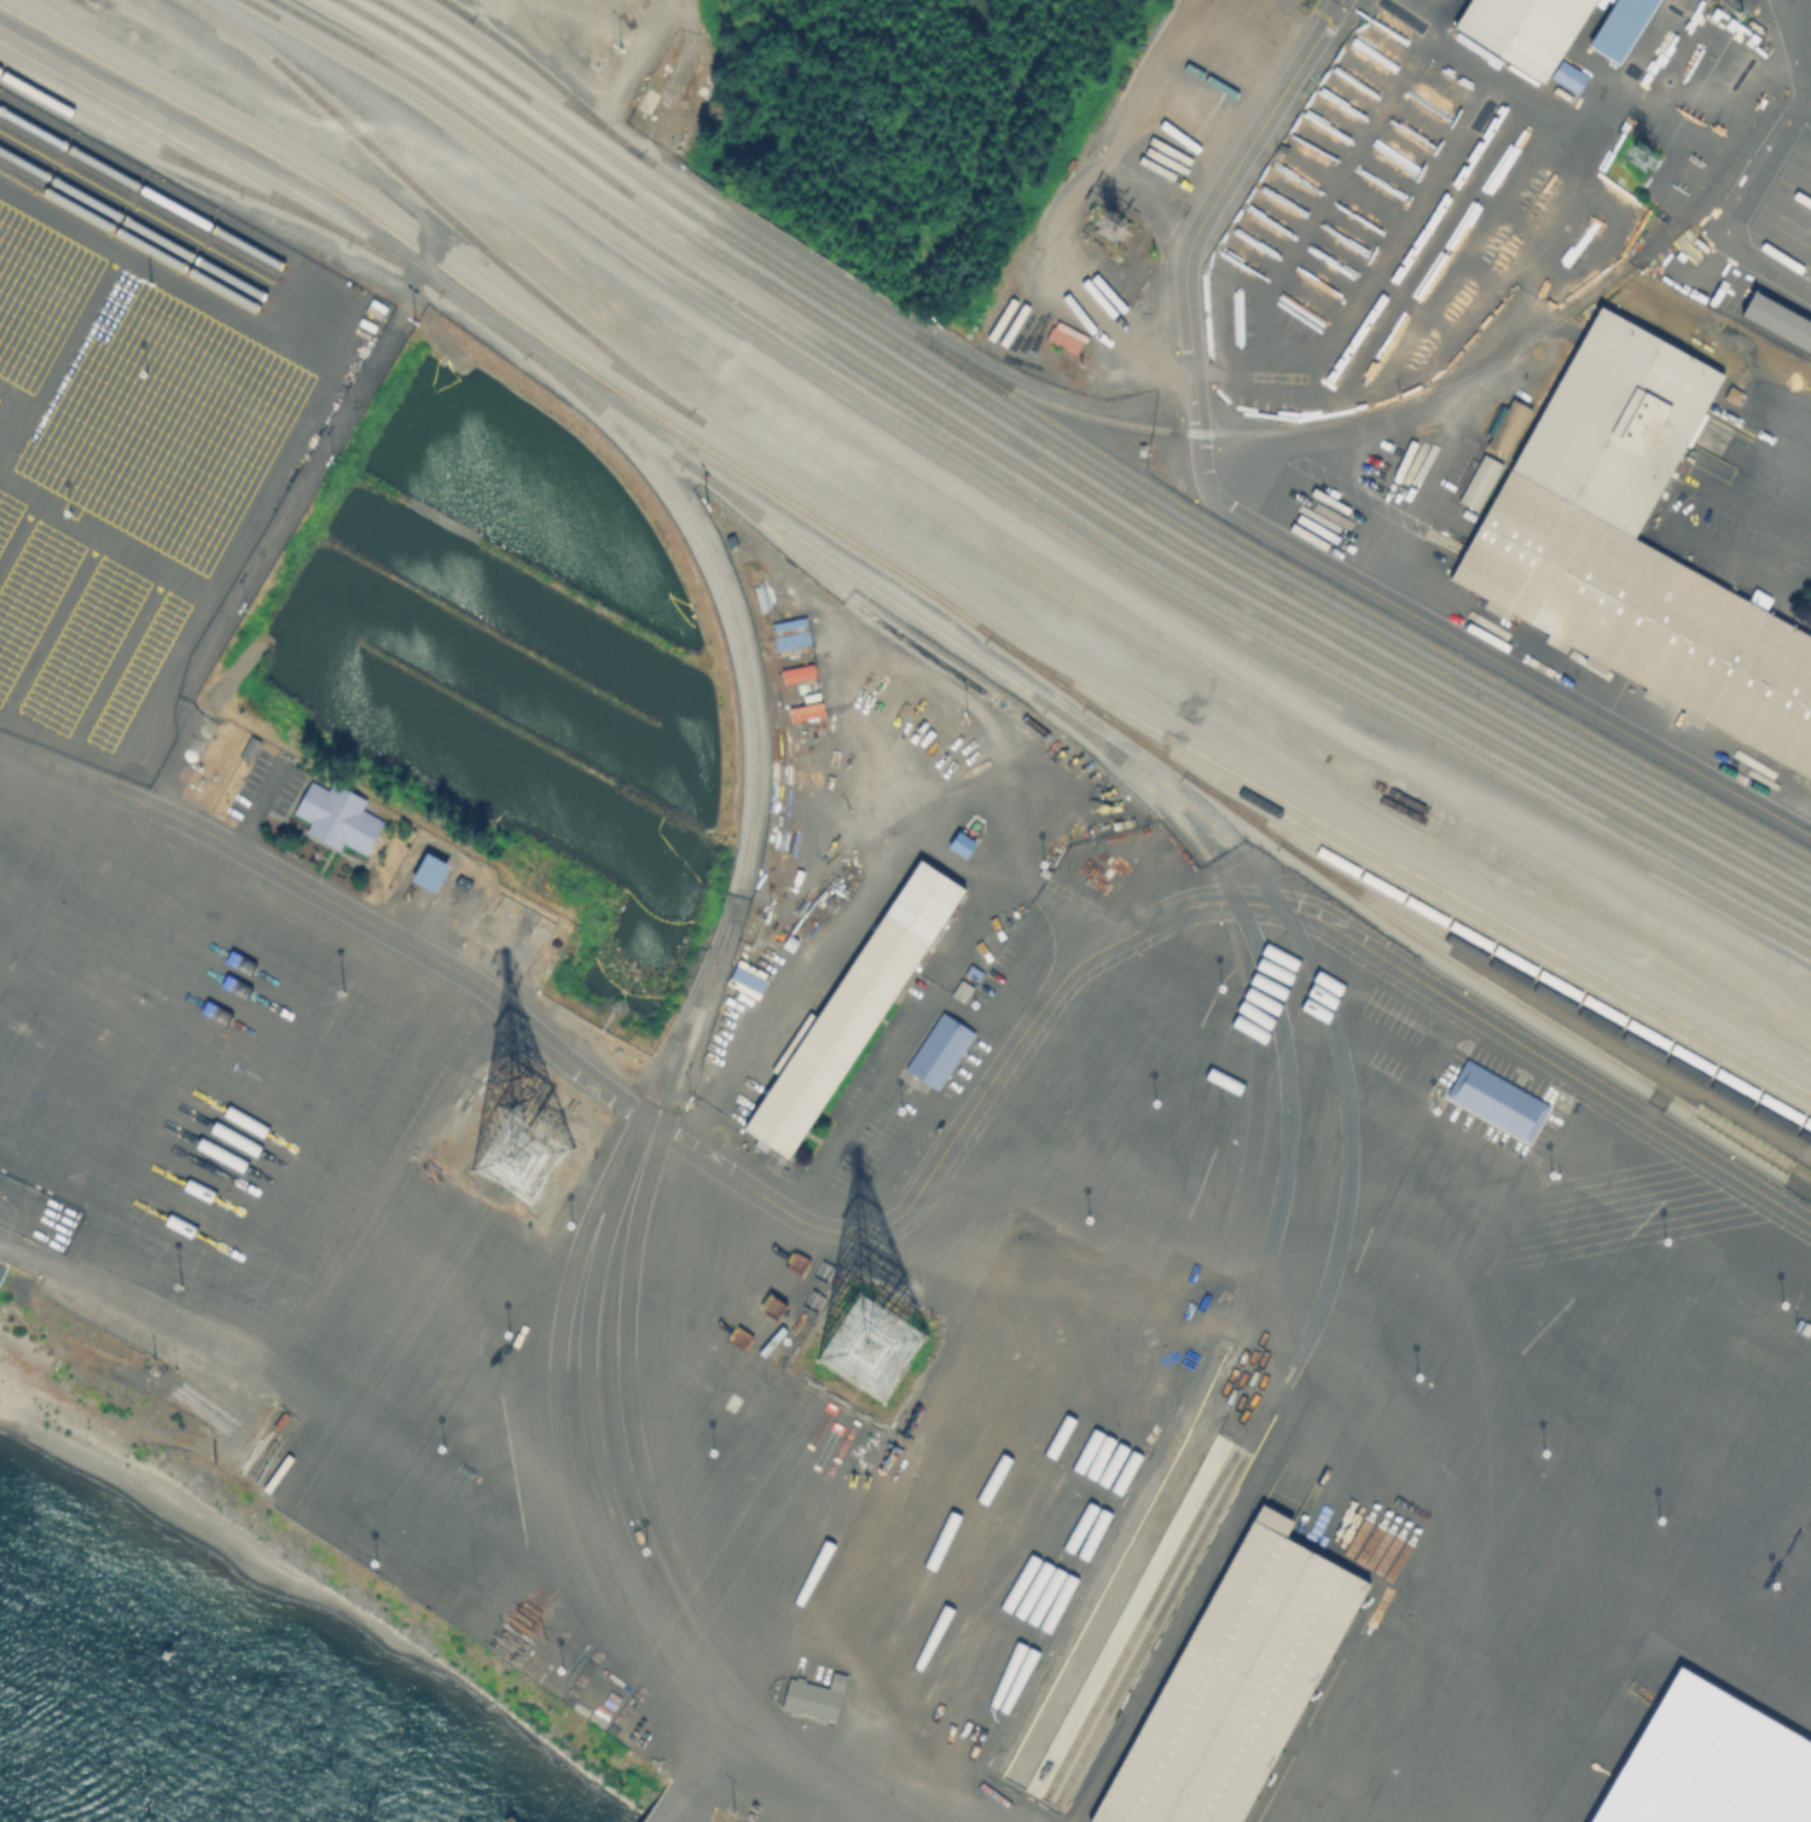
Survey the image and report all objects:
railway: (402, 16)
power tower: (1739, 19)
building: (1525, 28)
road: (645, 46)
road: (1801, 48)
railway: (541, 71)
railway: (493, 95)
railway: (103, 128)
railway: (151, 139)
railway: (195, 151)
power tower: (1633, 153)
railway: (666, 172)
railway: (141, 188)
railway: (428, 197)
railway: (138, 202)
road: (1736, 203)
railway: (133, 225)
power tower: (1125, 230)
railway: (129, 238)
building: (1780, 323)
railway: (1404, 398)
road: (288, 454)
railway: (1107, 476)
railway: (1043, 481)
railway: (1028, 488)
railway: (1016, 497)
road: (1267, 539)
building: (1635, 547)
railway: (907, 553)
railway: (1215, 569)
railway: (892, 570)
railway: (844, 596)
railway: (1364, 608)
road: (994, 808)
building: (336, 819)
railway: (748, 834)
road: (256, 860)
railway: (1403, 883)
road: (1057, 906)
railway: (1464, 930)
railway: (1293, 933)
road: (1099, 947)
railway: (1254, 950)
railway: (1509, 970)
building: (852, 1009)
railway: (1546, 1019)
building: (1497, 1098)
power tower: (532, 1162)
pier: (1, 1271)
road: (309, 1301)
power tower: (869, 1351)
railway: (634, 1445)
railway: (608, 1507)
railway: (1156, 1589)
building: (1232, 1689)
building: (812, 1696)
building: (1710, 1766)
pier: (671, 1811)

